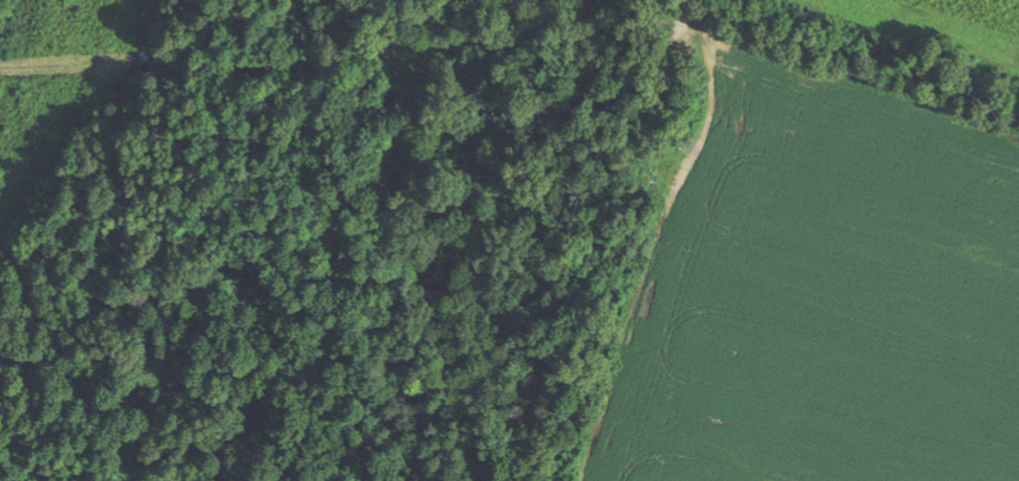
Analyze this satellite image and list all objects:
road: (888, 47)

